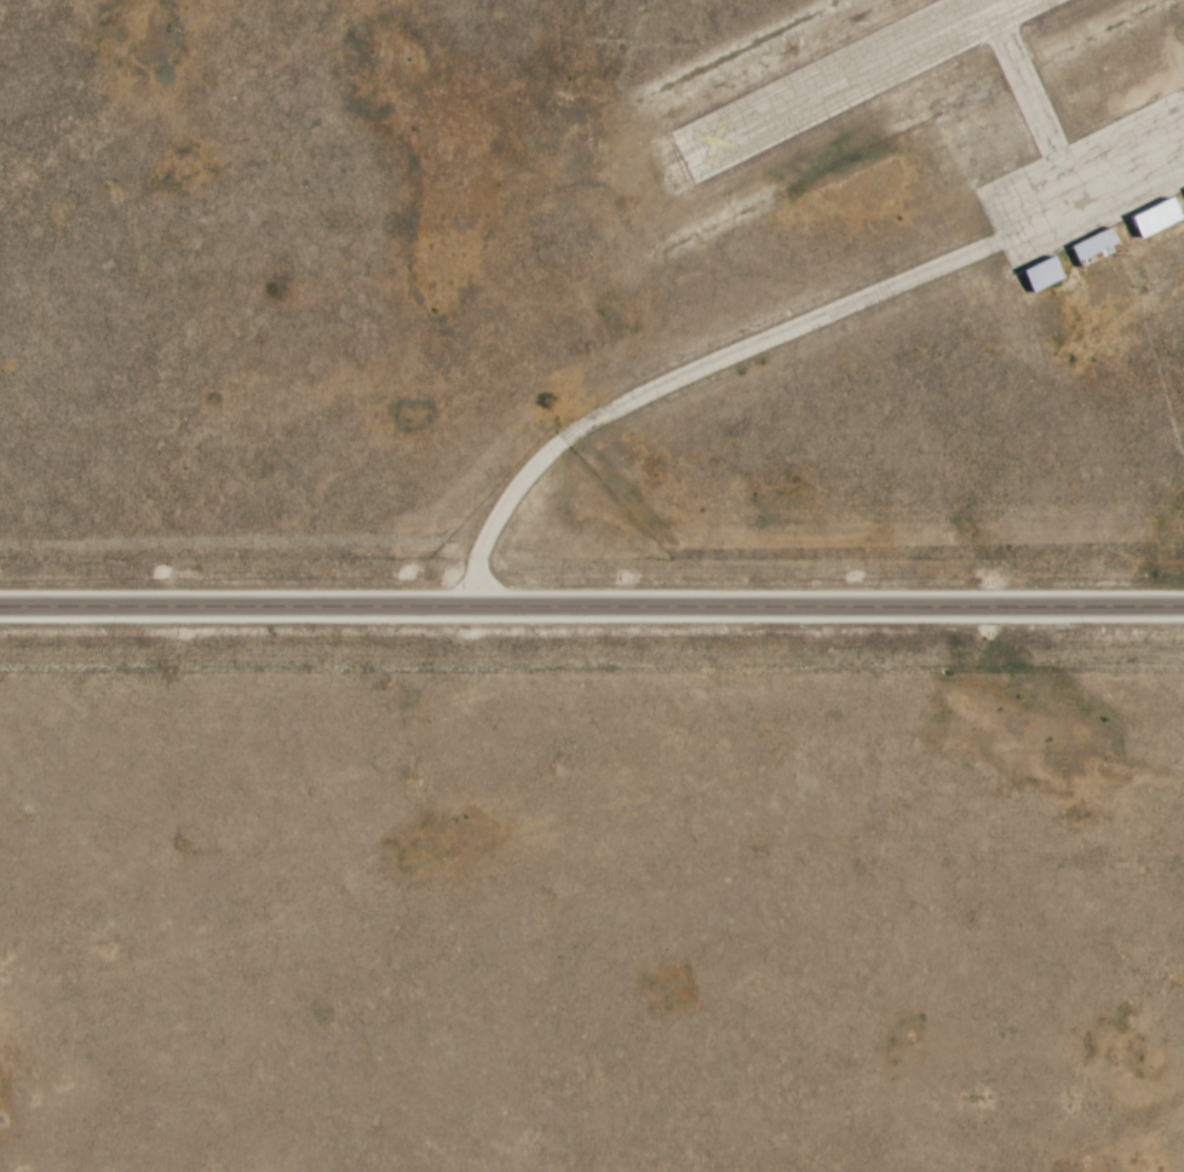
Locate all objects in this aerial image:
airport taxiway: (1023, 77)
airport apron: (1088, 184)
building: (1156, 218)
building: (1096, 248)
building: (1042, 274)
road: (688, 374)
road: (591, 609)

